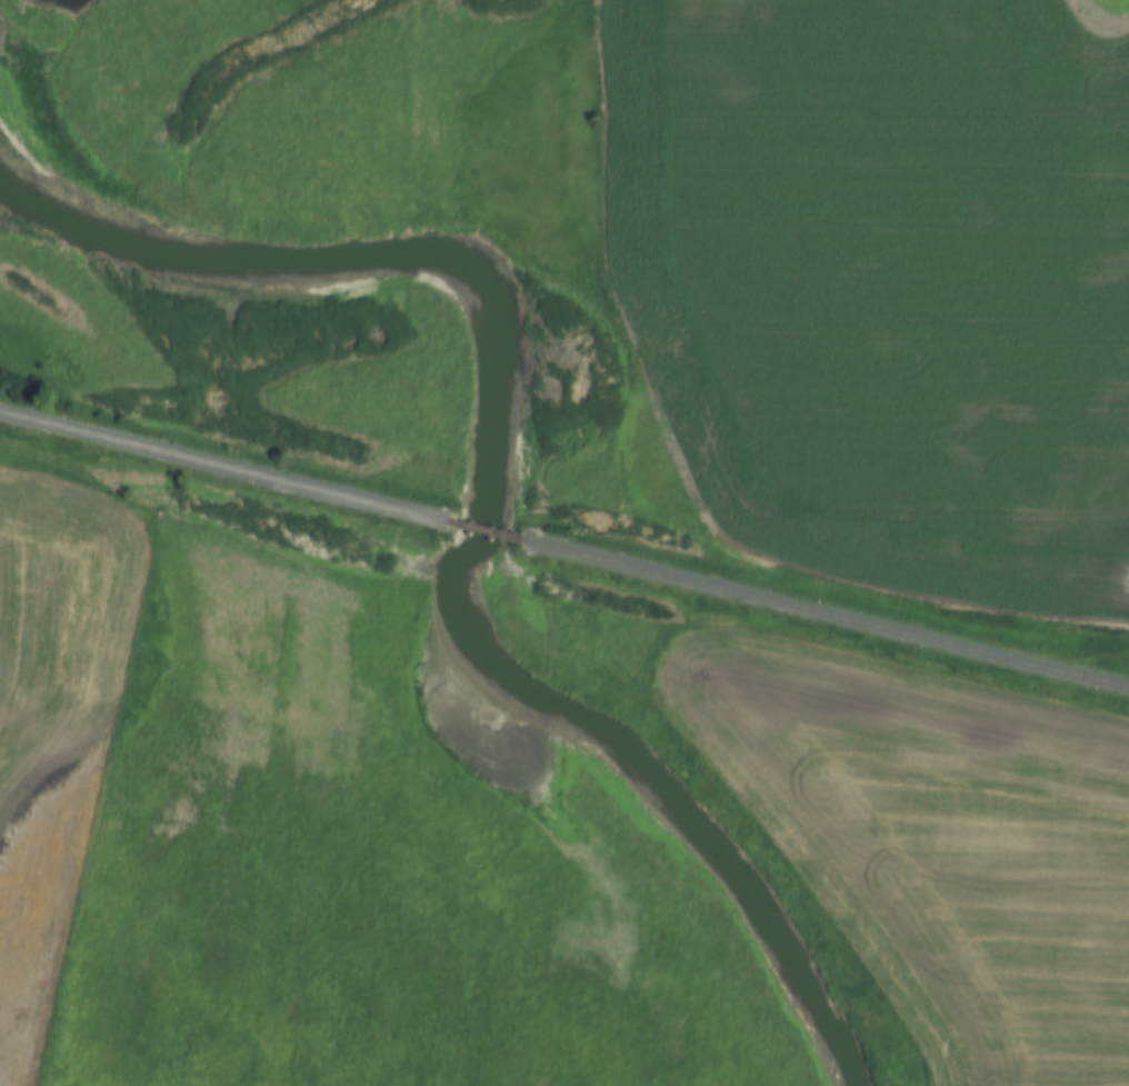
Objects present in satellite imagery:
railway: (223, 467)
river: (483, 468)
railway: (484, 531)
railway: (826, 615)

